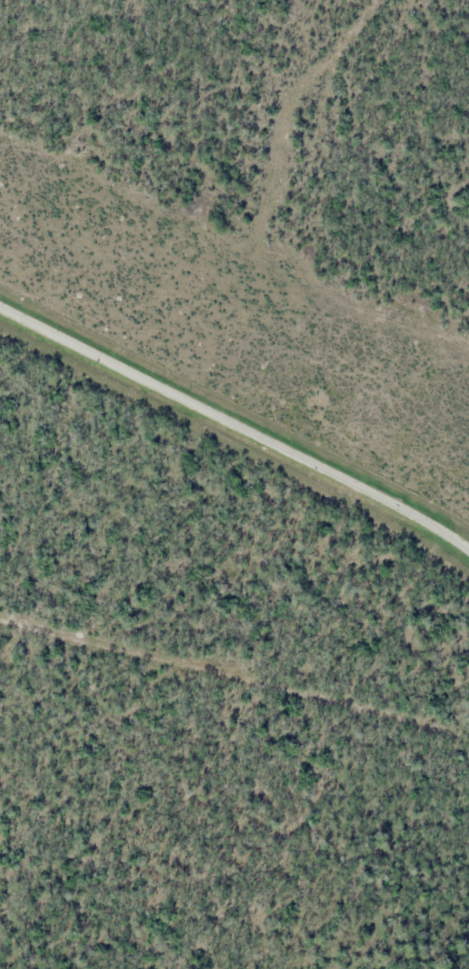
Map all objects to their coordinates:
road: (236, 420)

